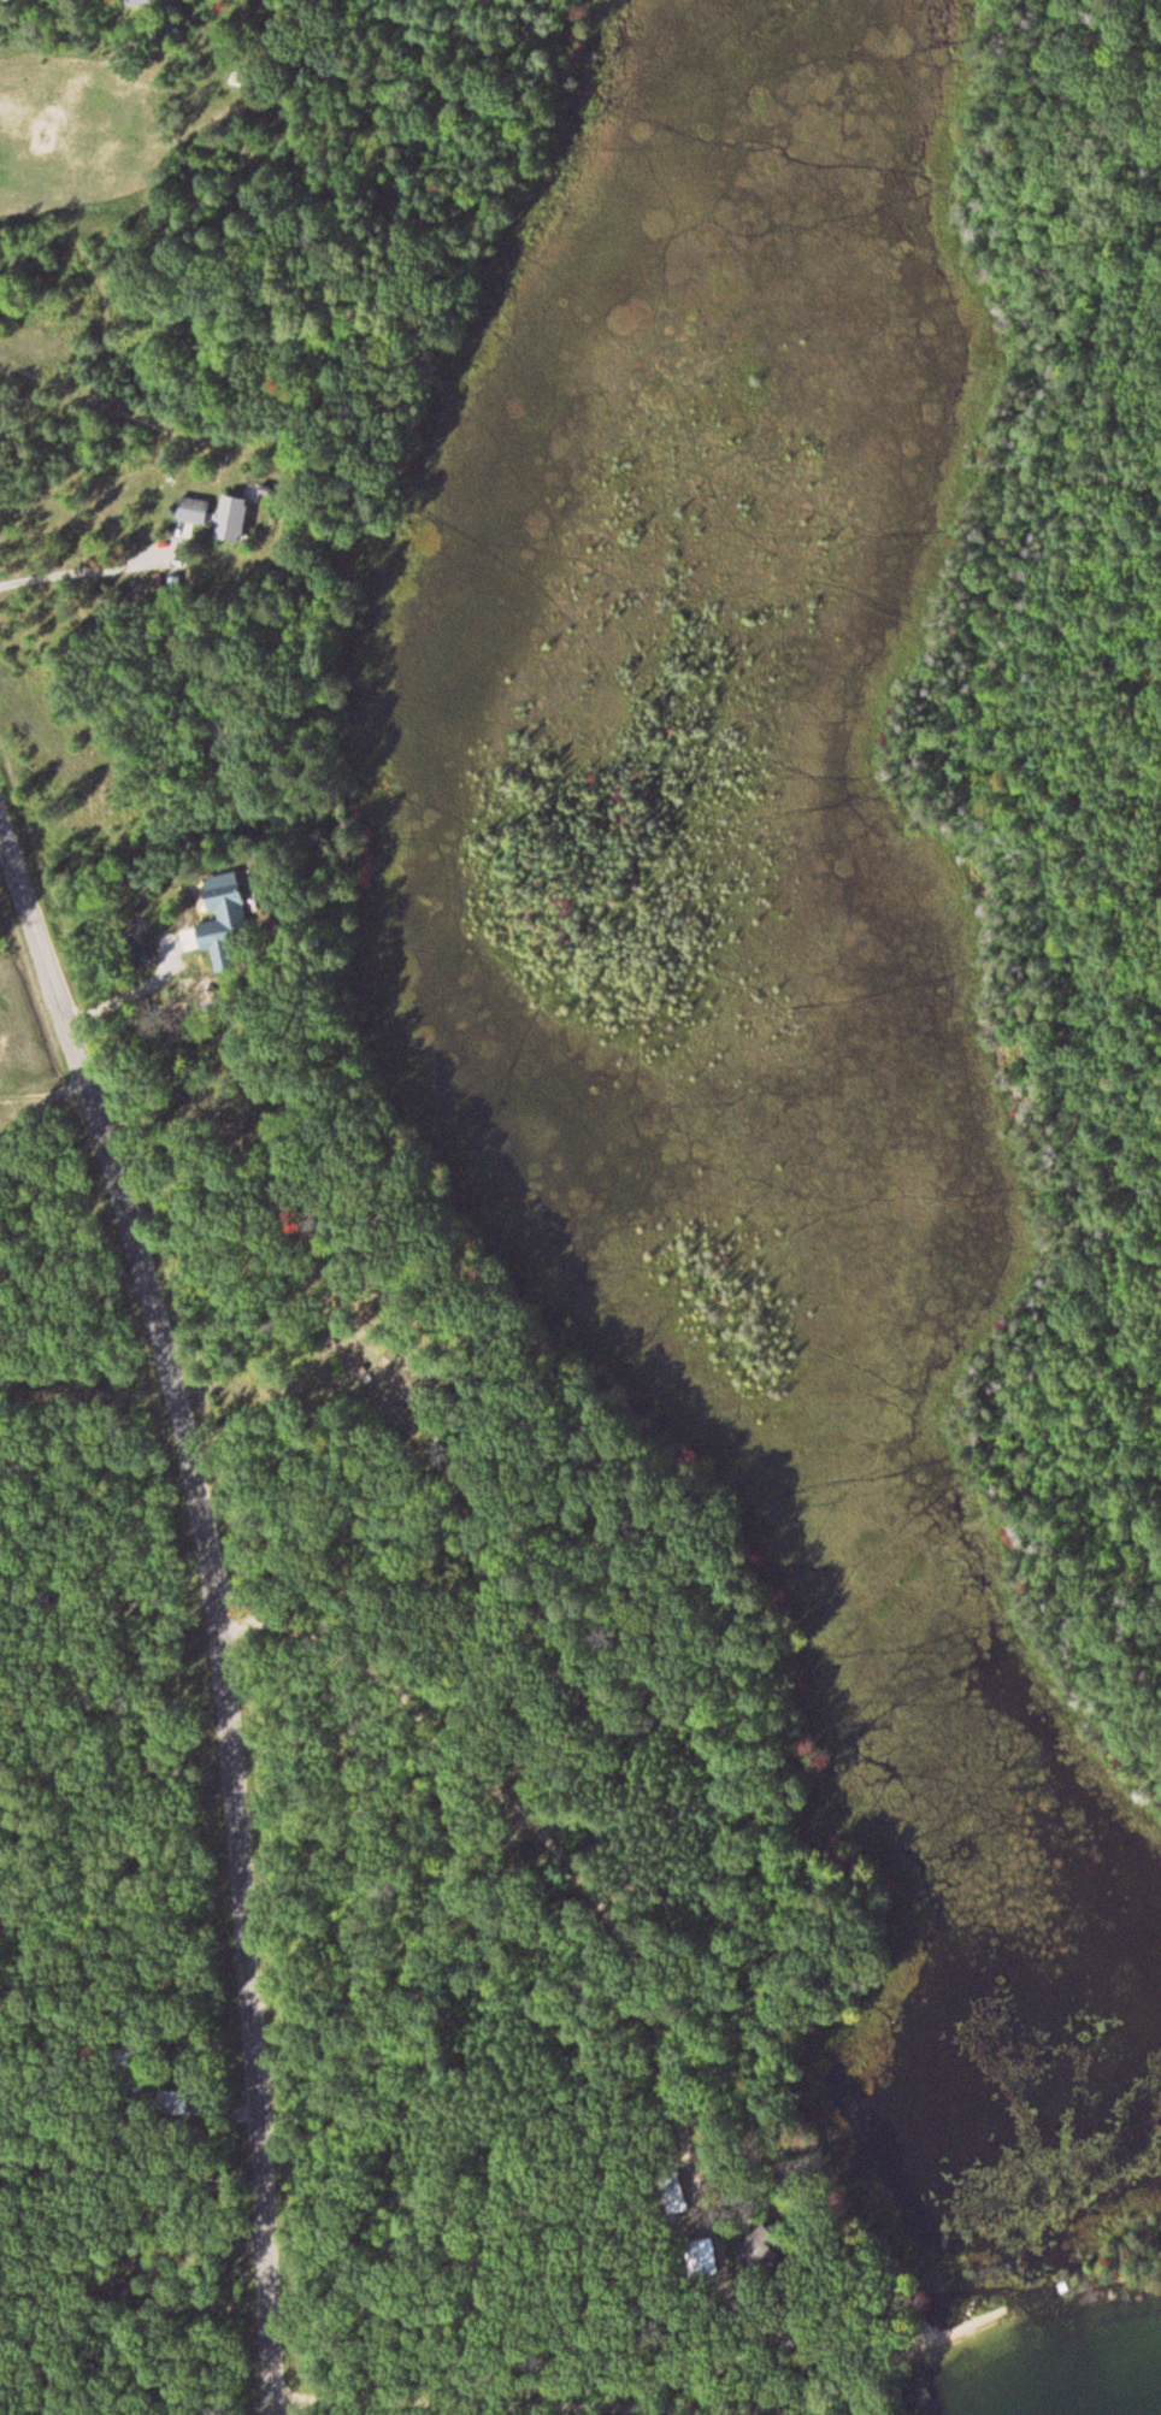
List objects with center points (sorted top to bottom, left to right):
road: (173, 183)
building: (190, 512)
building: (228, 520)
building: (217, 911)
road: (217, 1601)
building: (171, 2102)
road: (547, 2131)
building: (670, 2190)
building: (701, 2258)
road: (482, 2407)

